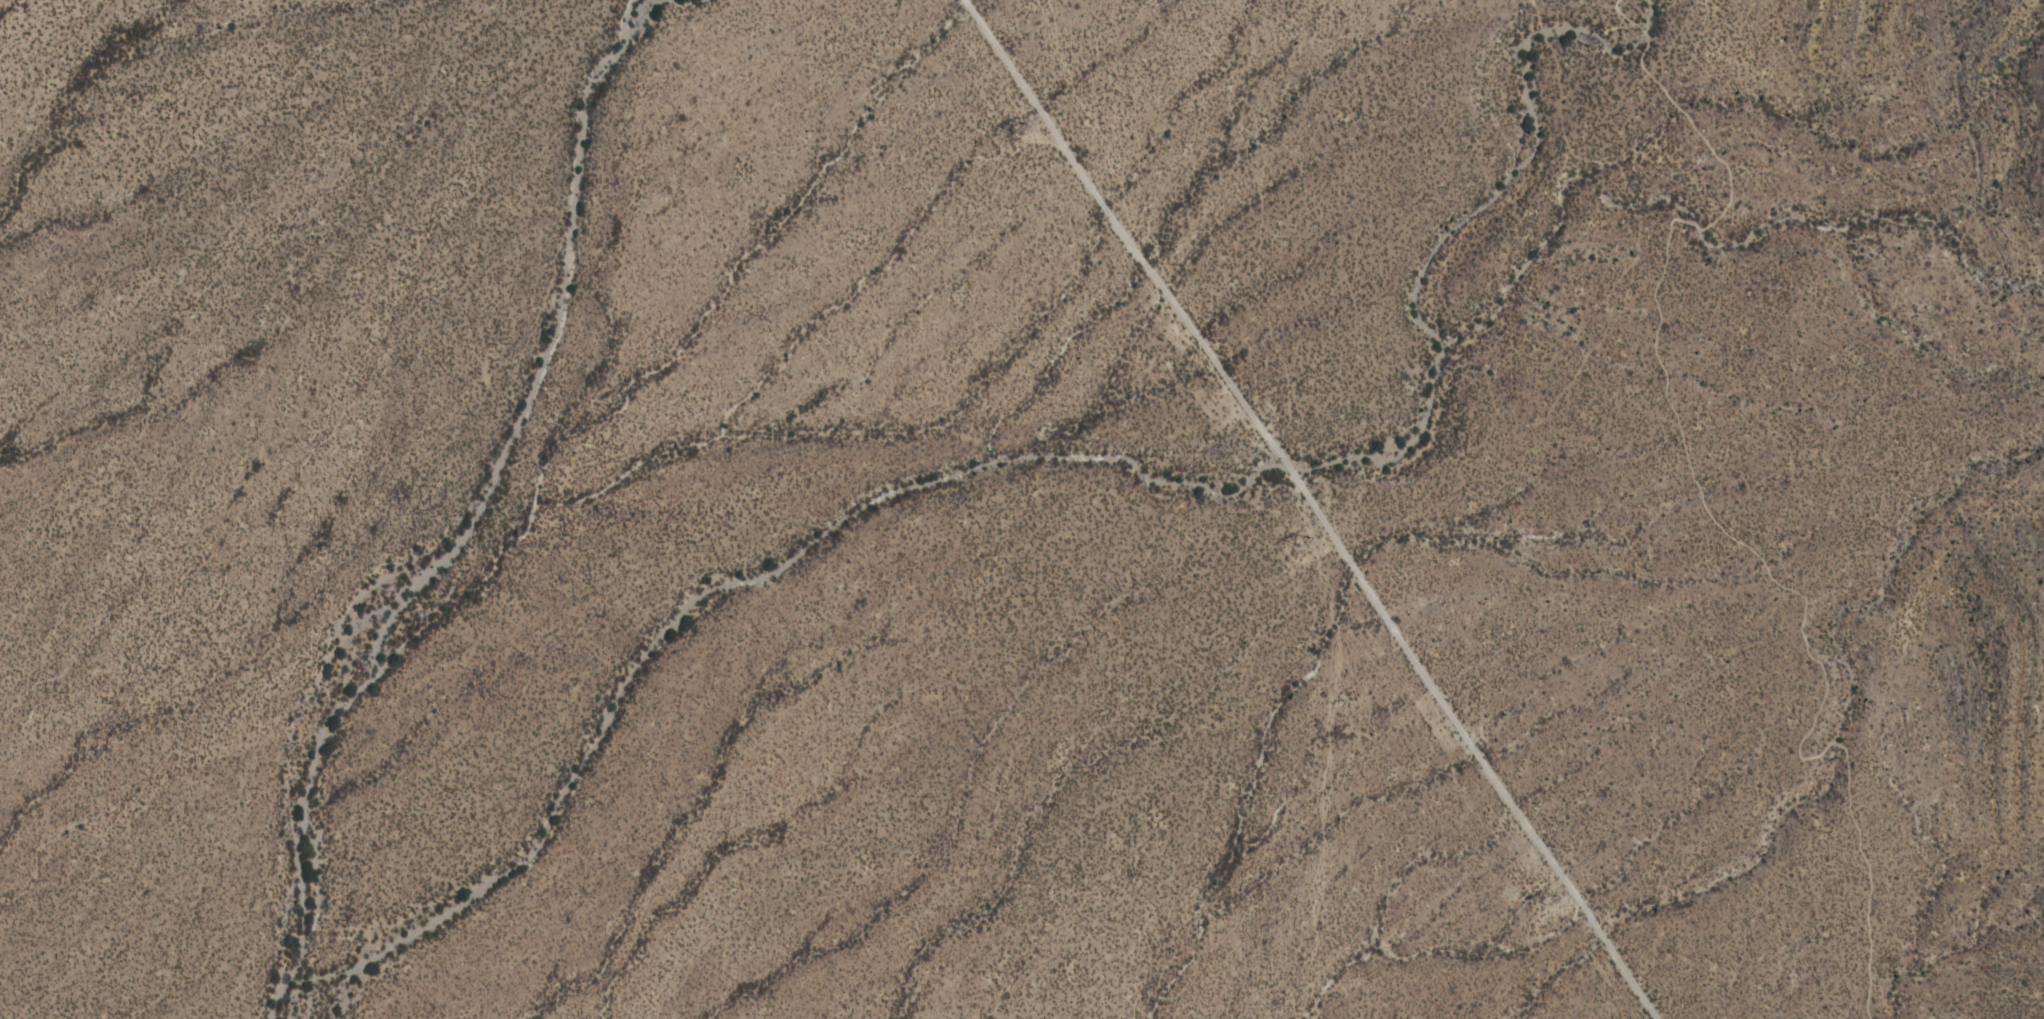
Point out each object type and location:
power tower: (1024, 125)
road: (1310, 509)
road: (1714, 513)
power tower: (1307, 537)
power tower: (1554, 897)

